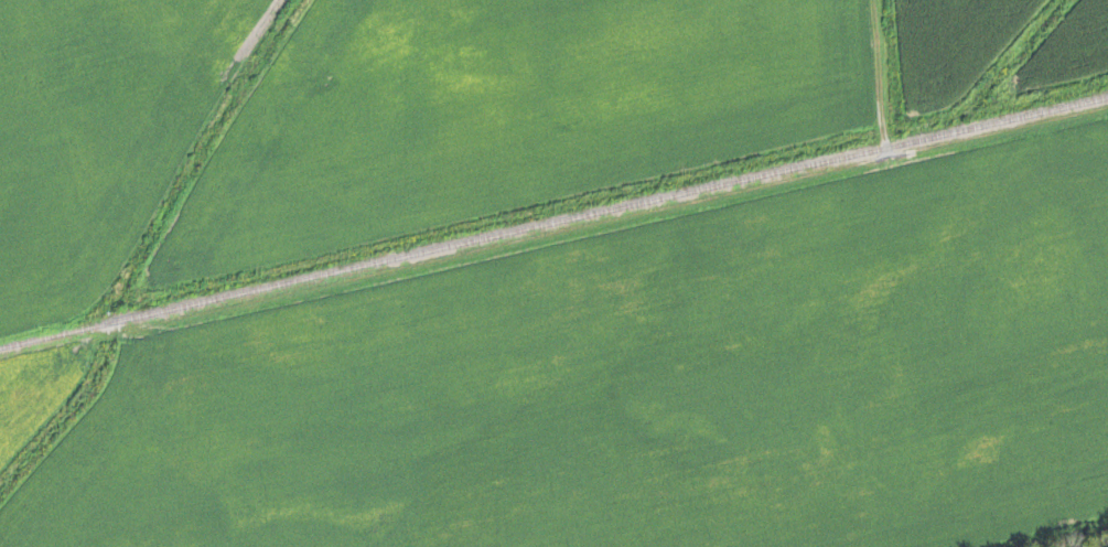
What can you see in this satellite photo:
crop: (957, 43)
crop: (1072, 47)
road: (923, 151)
railway: (553, 221)
crop: (39, 383)

